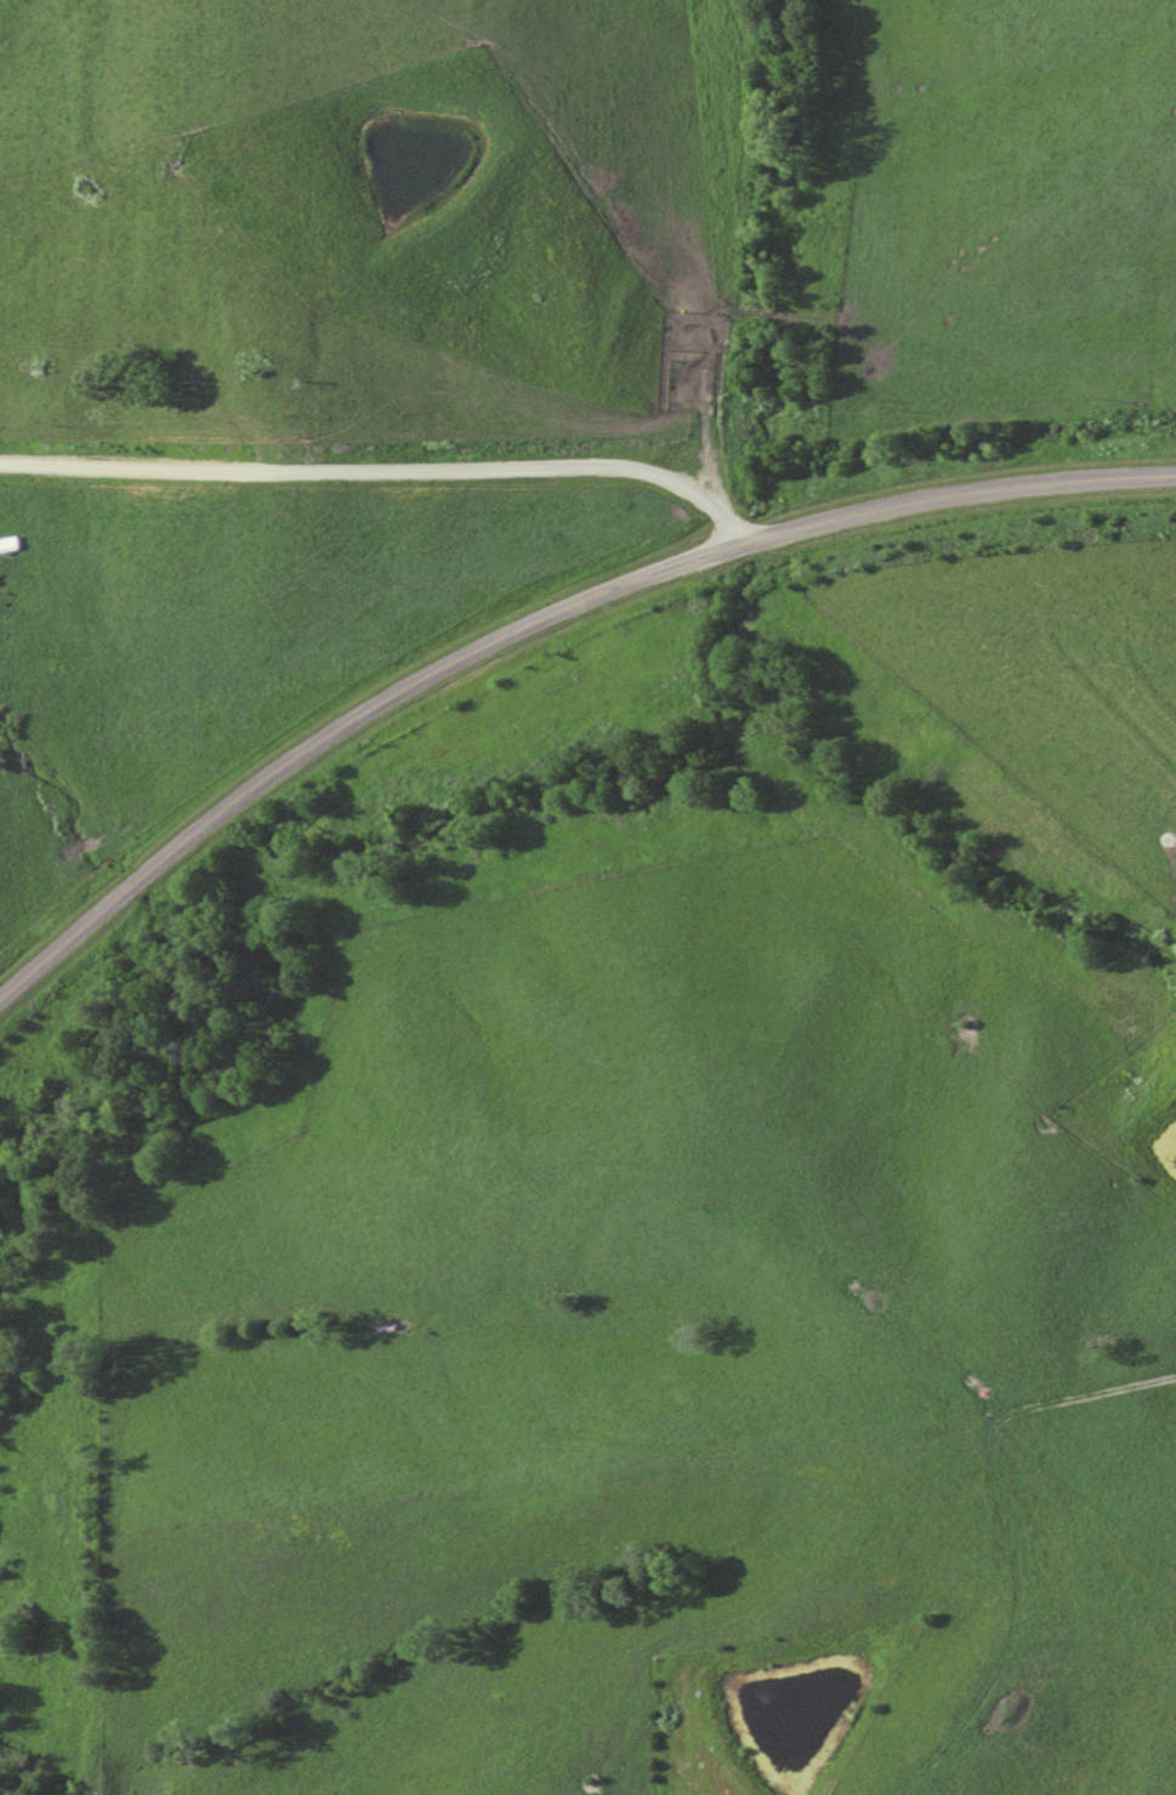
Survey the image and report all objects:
road: (387, 468)
road: (534, 619)

